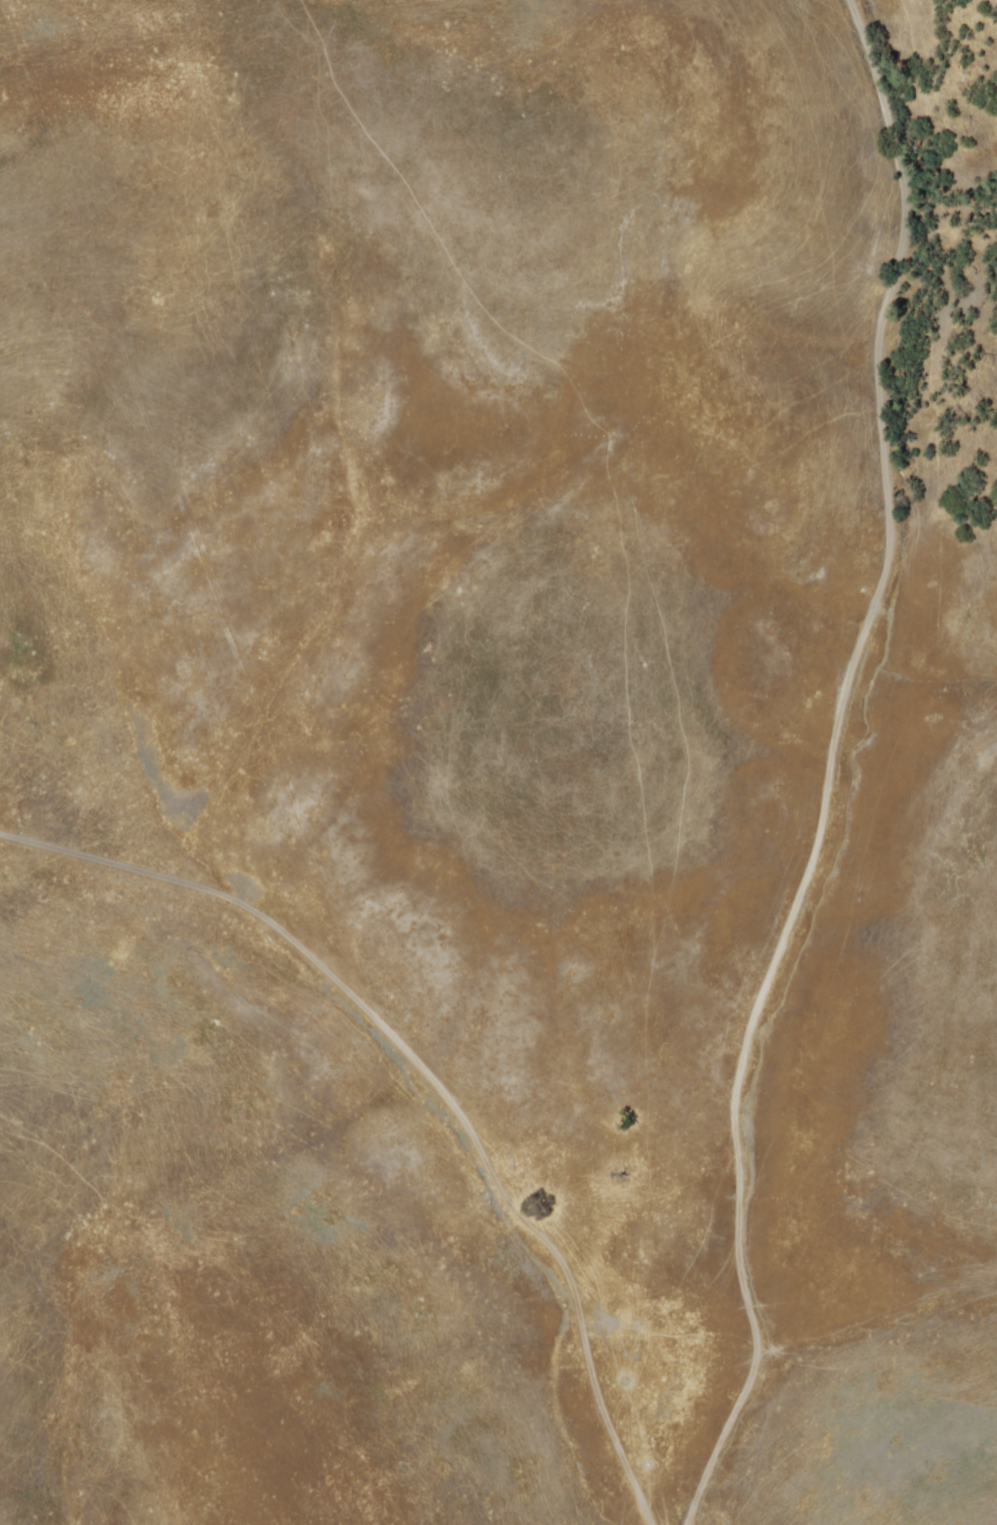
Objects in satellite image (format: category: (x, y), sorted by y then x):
road: (829, 763)

